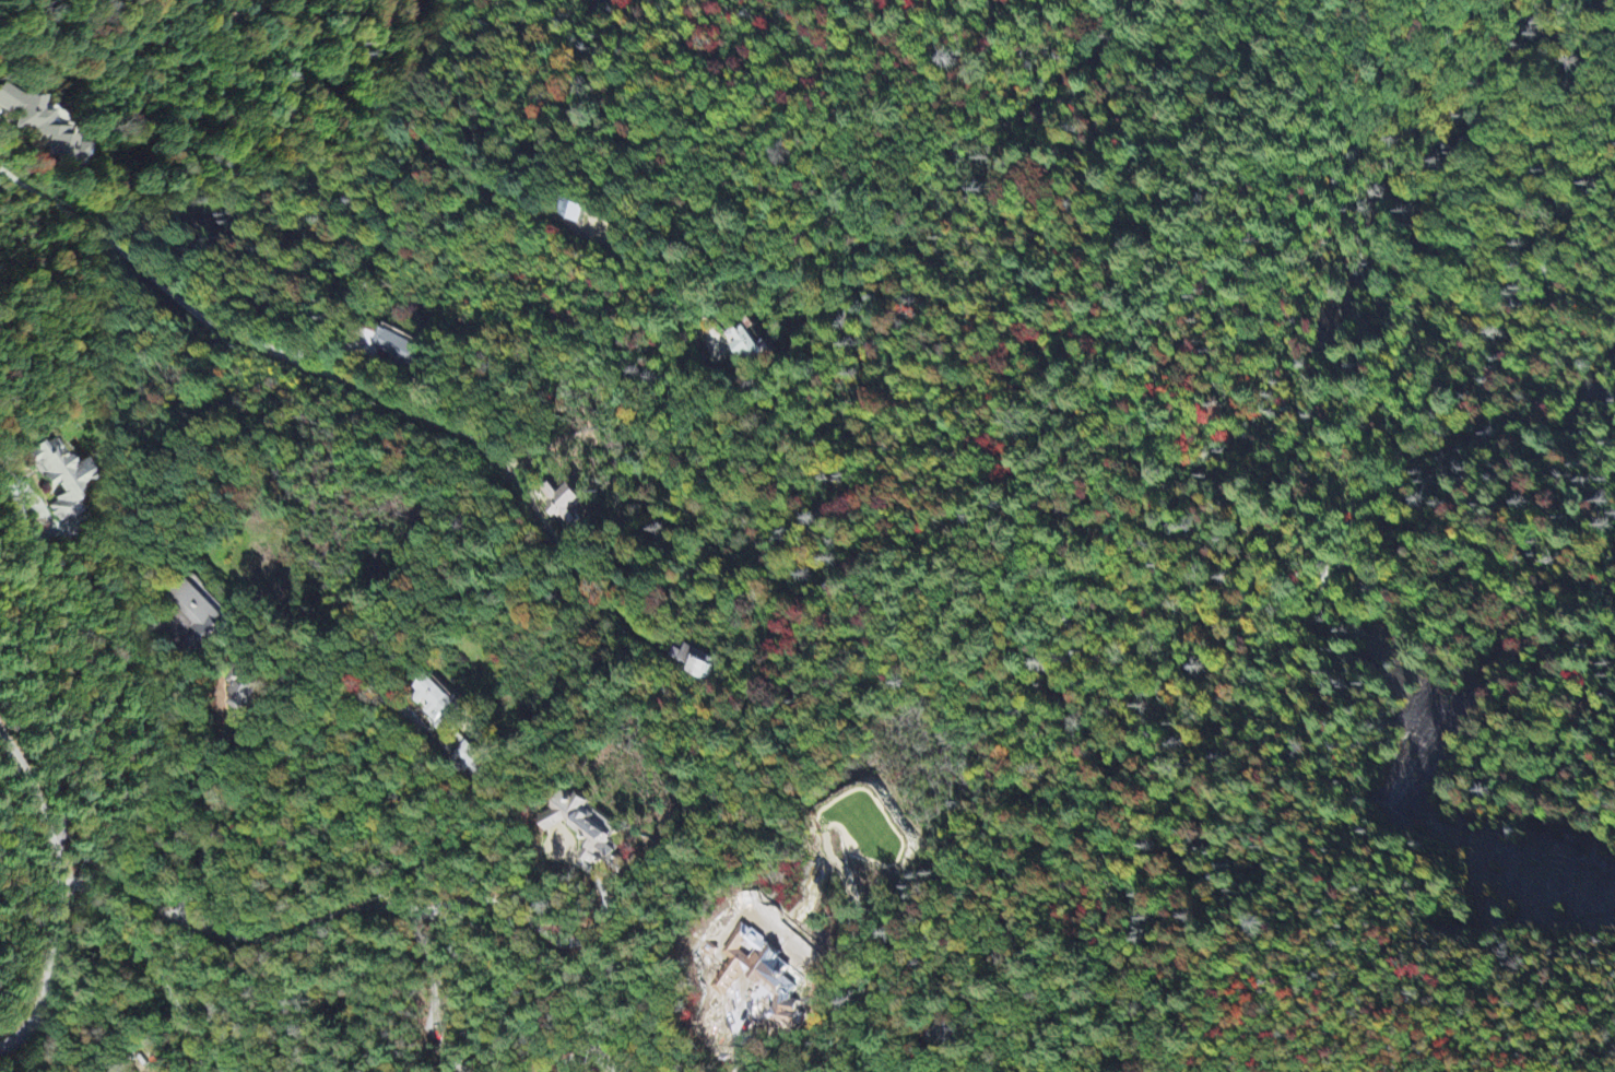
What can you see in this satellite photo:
park: (1387, 39)
building: (44, 133)
road: (429, 152)
building: (576, 213)
building: (747, 344)
building: (394, 349)
road: (352, 386)
building: (56, 481)
building: (562, 506)
building: (197, 615)
building: (693, 664)
building: (436, 703)
park: (1389, 830)
road: (58, 892)
road: (110, 895)
building: (769, 983)

